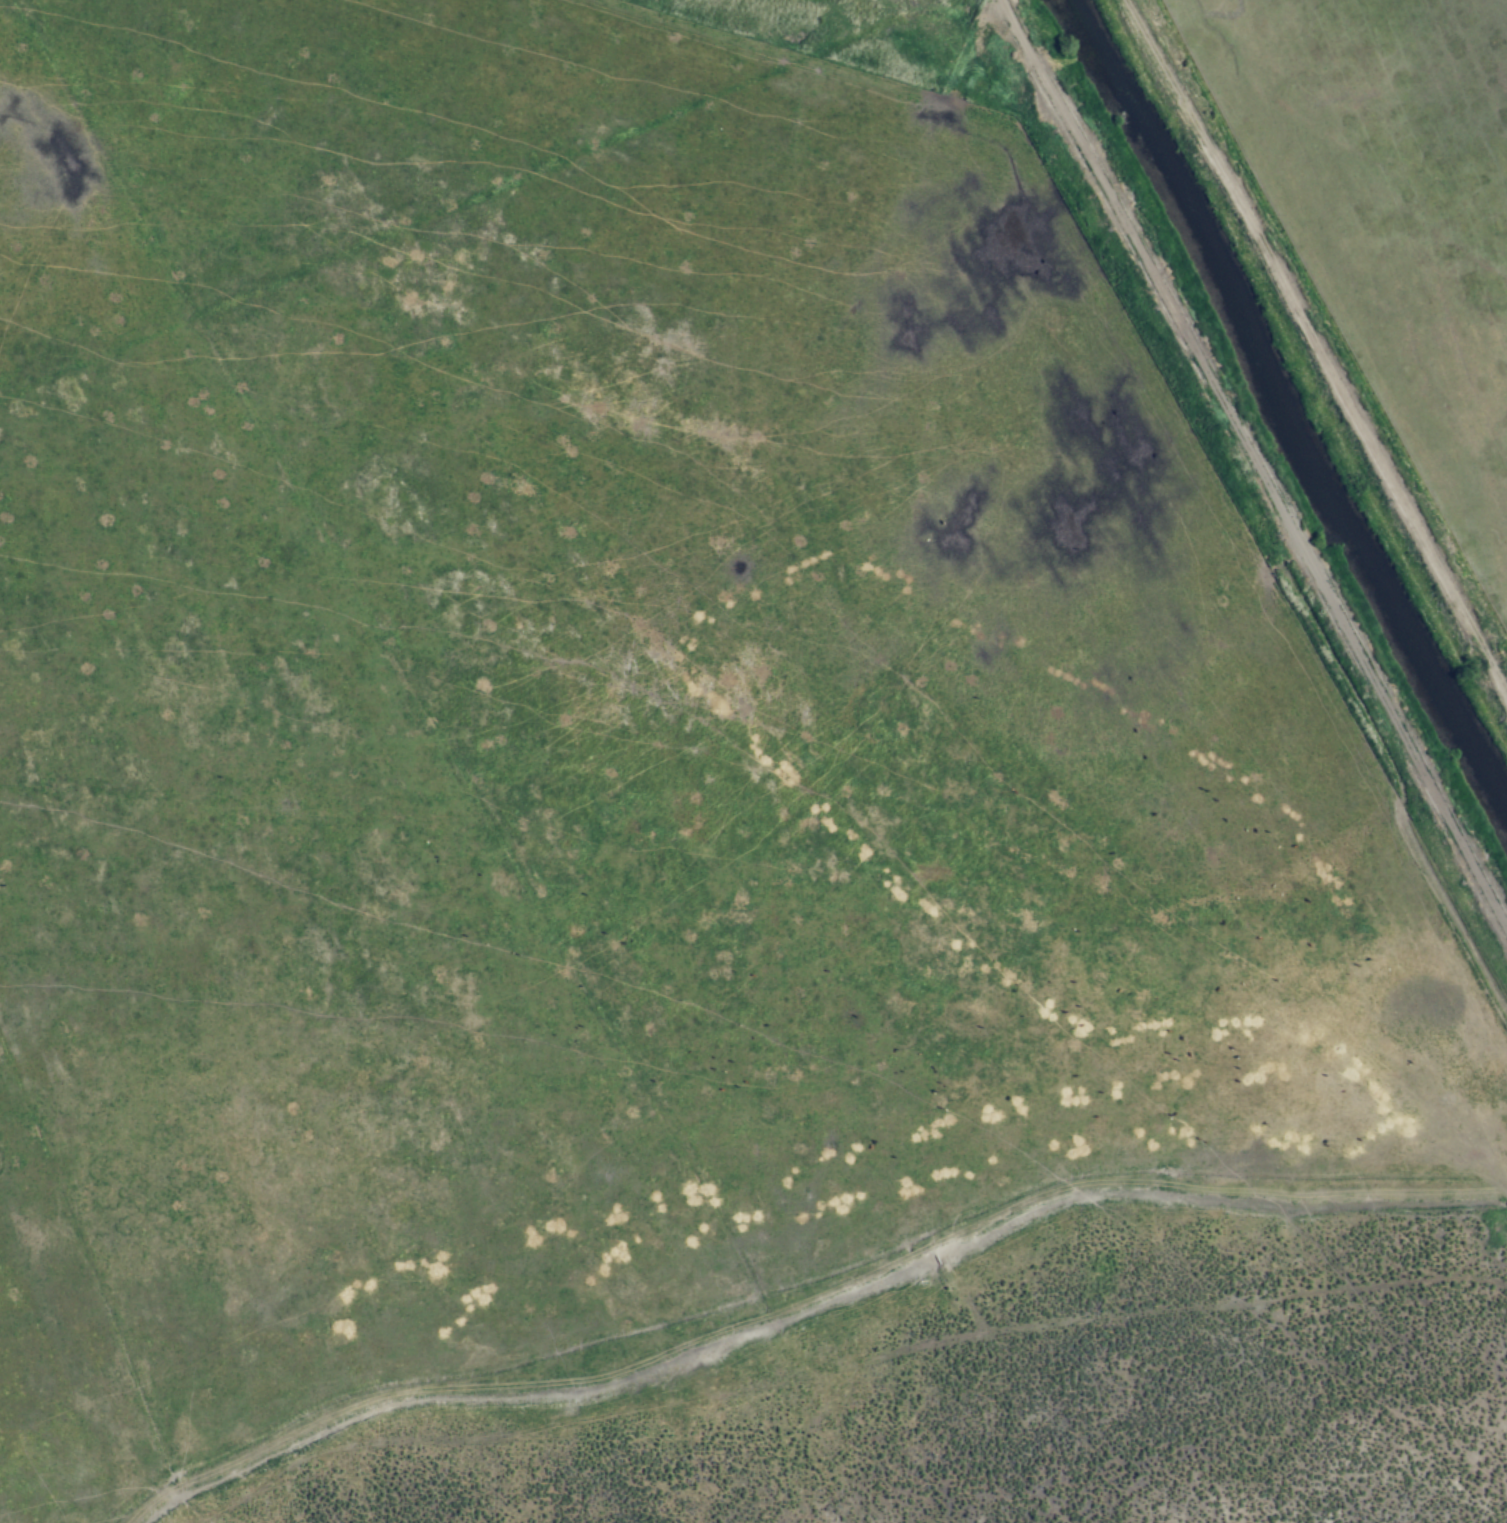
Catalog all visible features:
road: (995, 44)
road: (1168, 366)
river: (1286, 412)

